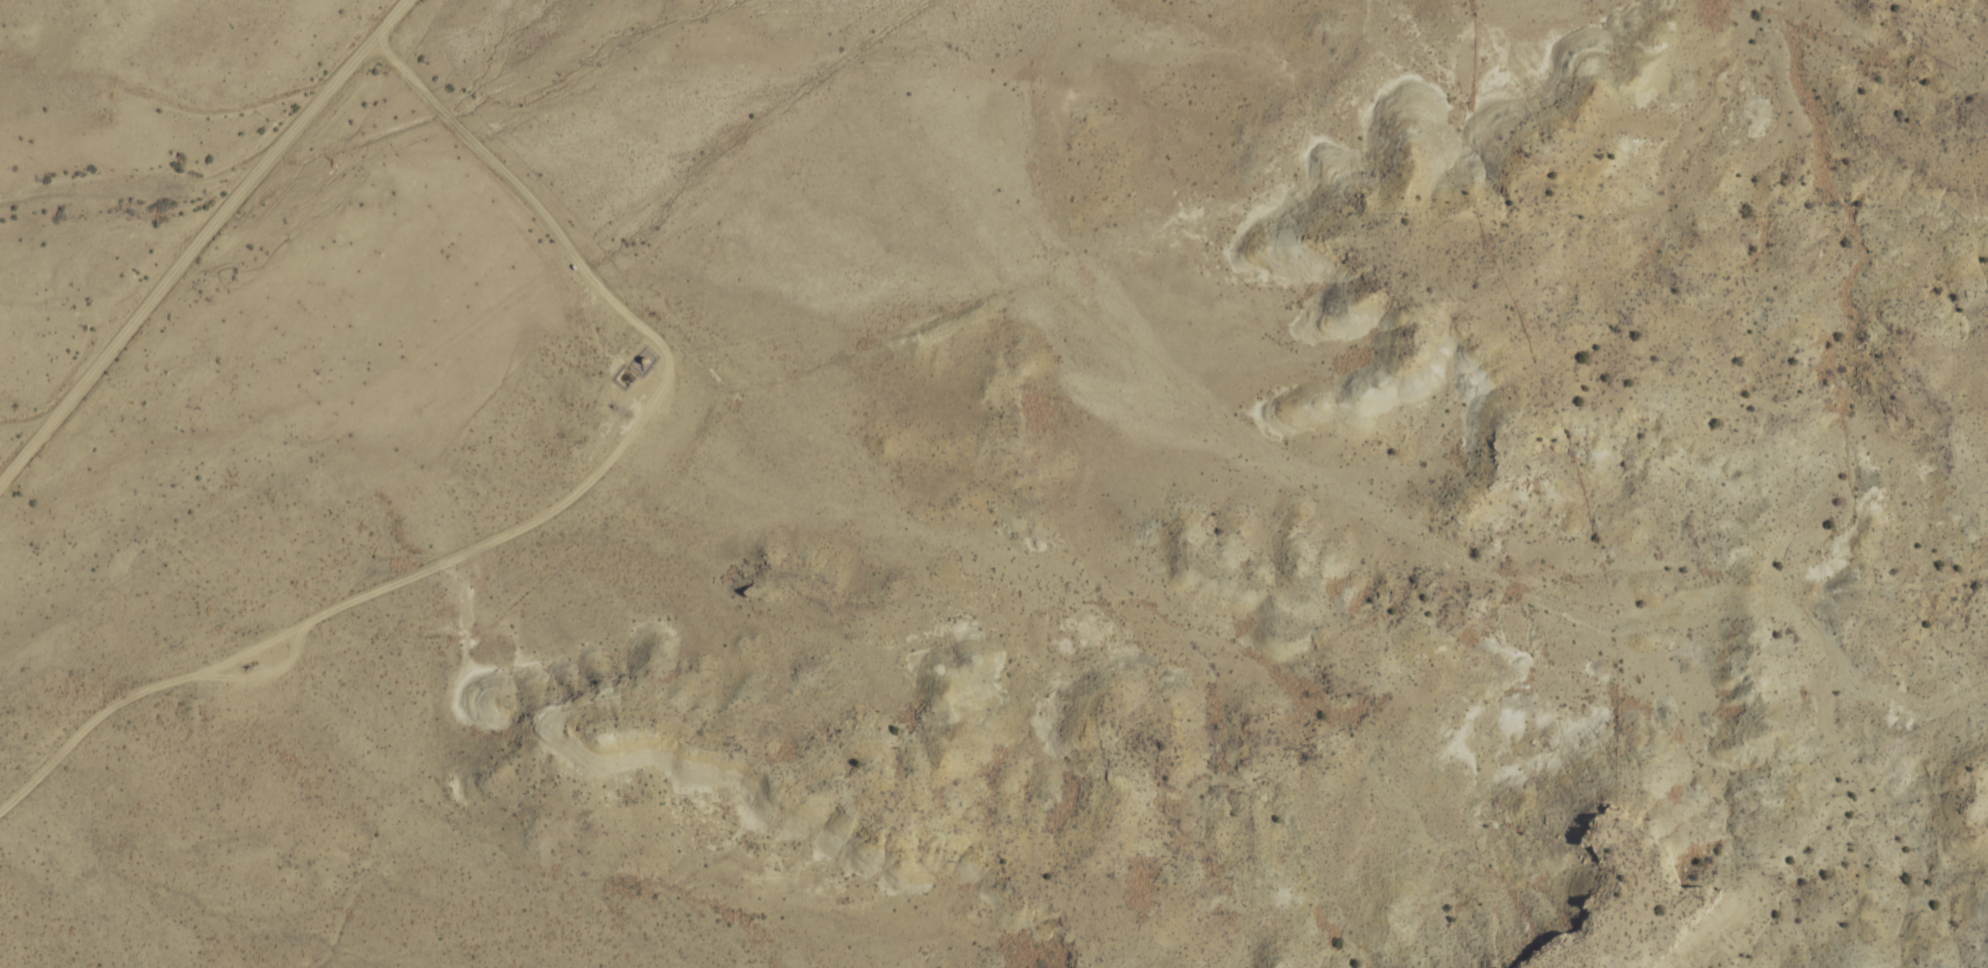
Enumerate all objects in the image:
road: (199, 240)
road: (543, 507)

